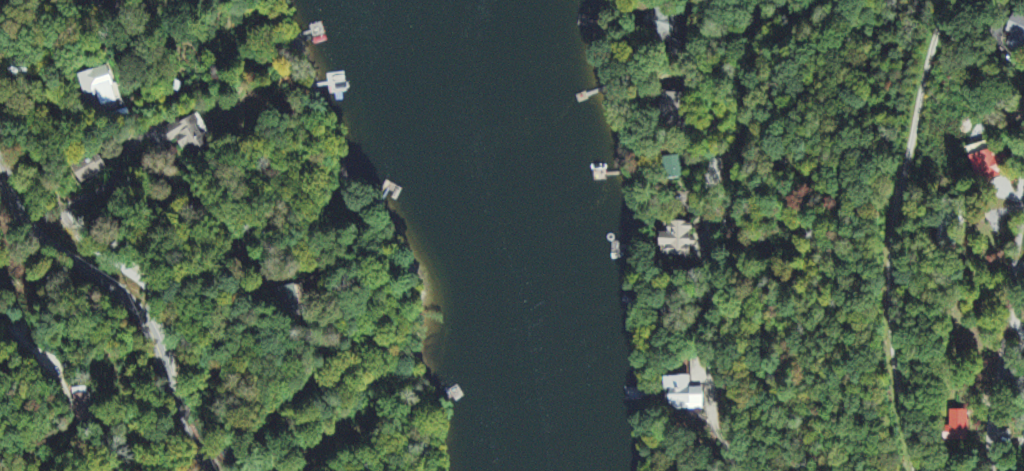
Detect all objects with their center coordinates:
building: (659, 27)
building: (1018, 33)
road: (737, 35)
road: (52, 52)
road: (720, 85)
building: (95, 86)
building: (671, 107)
building: (188, 136)
road: (7, 152)
building: (988, 166)
building: (86, 168)
building: (672, 168)
road: (704, 217)
road: (892, 233)
river: (551, 235)
building: (679, 241)
building: (291, 297)
road: (127, 302)
road: (1004, 340)
building: (683, 395)
building: (959, 427)

